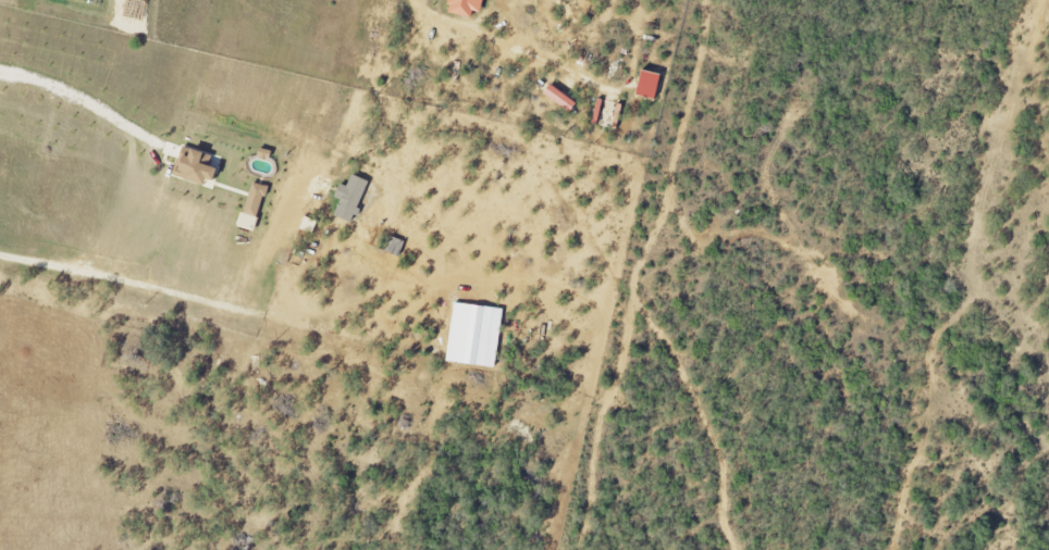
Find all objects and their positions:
building: (466, 8)
road: (84, 98)
building: (561, 99)
building: (615, 118)
building: (350, 199)
building: (255, 201)
road: (171, 288)
building: (474, 336)

